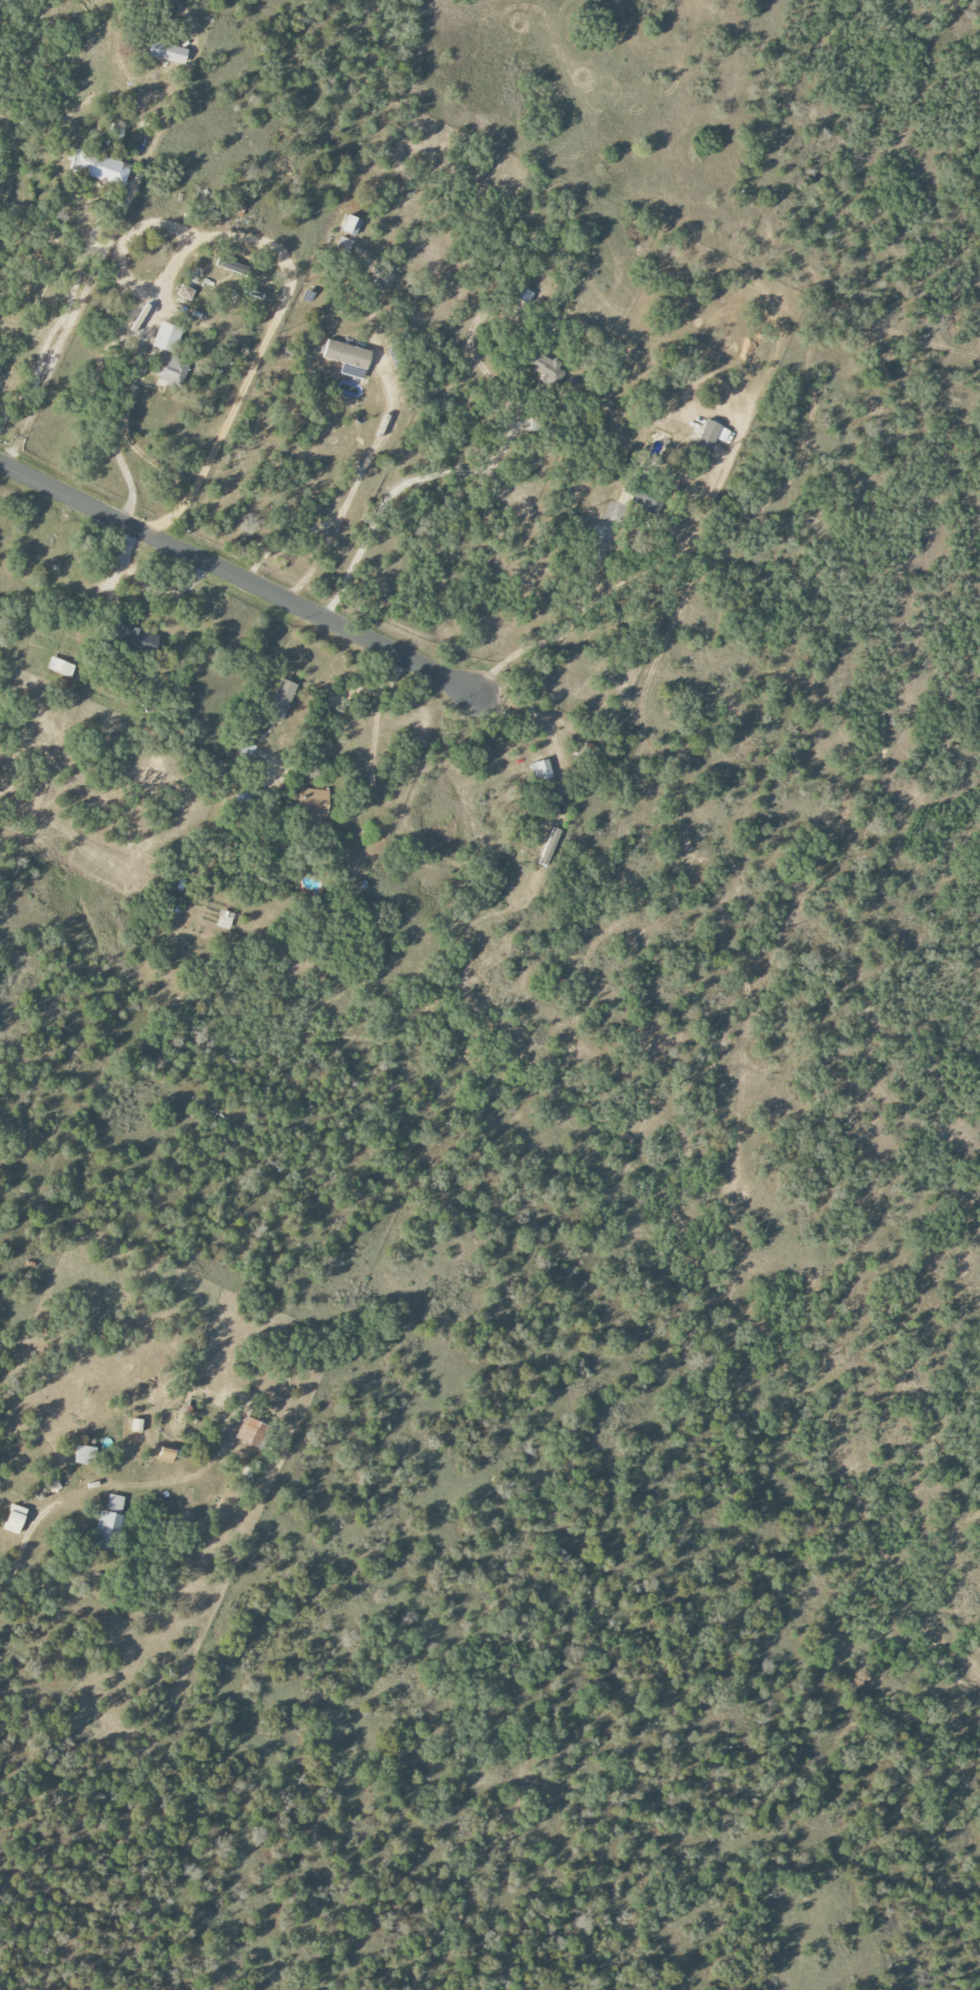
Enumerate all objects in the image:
building: (168, 52)
building: (100, 167)
building: (351, 225)
road: (110, 252)
building: (185, 292)
building: (167, 338)
road: (255, 357)
building: (348, 358)
building: (544, 367)
building: (169, 369)
road: (102, 431)
building: (712, 434)
road: (353, 484)
road: (394, 485)
road: (236, 575)
road: (563, 629)
building: (136, 638)
building: (60, 667)
building: (540, 770)
building: (314, 802)
building: (549, 846)
building: (136, 1425)
building: (253, 1431)
building: (85, 1455)
building: (166, 1455)
road: (87, 1497)
building: (15, 1519)
building: (109, 1522)

